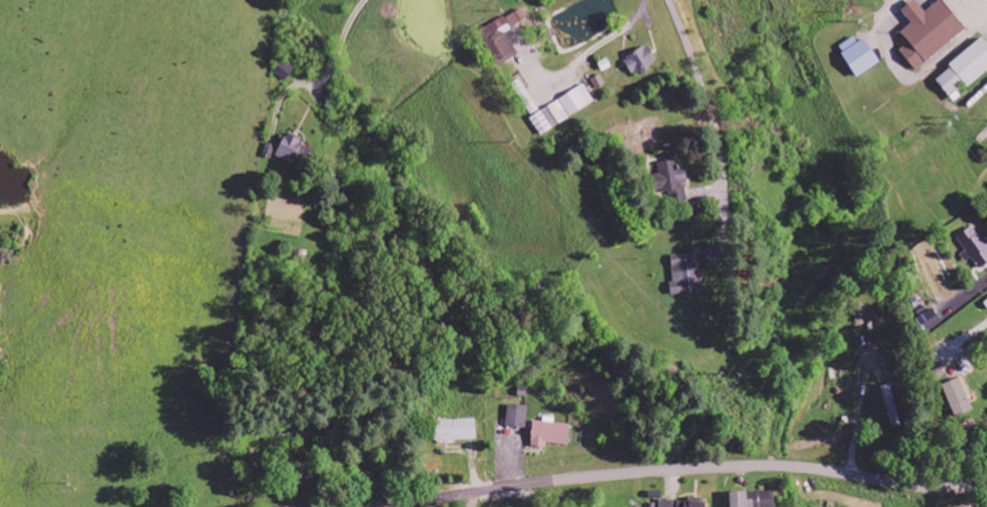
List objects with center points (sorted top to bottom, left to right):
building: (931, 32)
building: (505, 36)
road: (341, 47)
building: (860, 56)
building: (642, 61)
building: (284, 71)
building: (965, 71)
building: (563, 110)
road: (712, 121)
building: (296, 153)
road: (525, 168)
building: (673, 180)
building: (975, 246)
building: (686, 275)
building: (986, 304)
building: (959, 398)
building: (892, 406)
building: (518, 417)
building: (457, 430)
building: (551, 435)
road: (689, 468)
building: (755, 500)
building: (682, 504)

